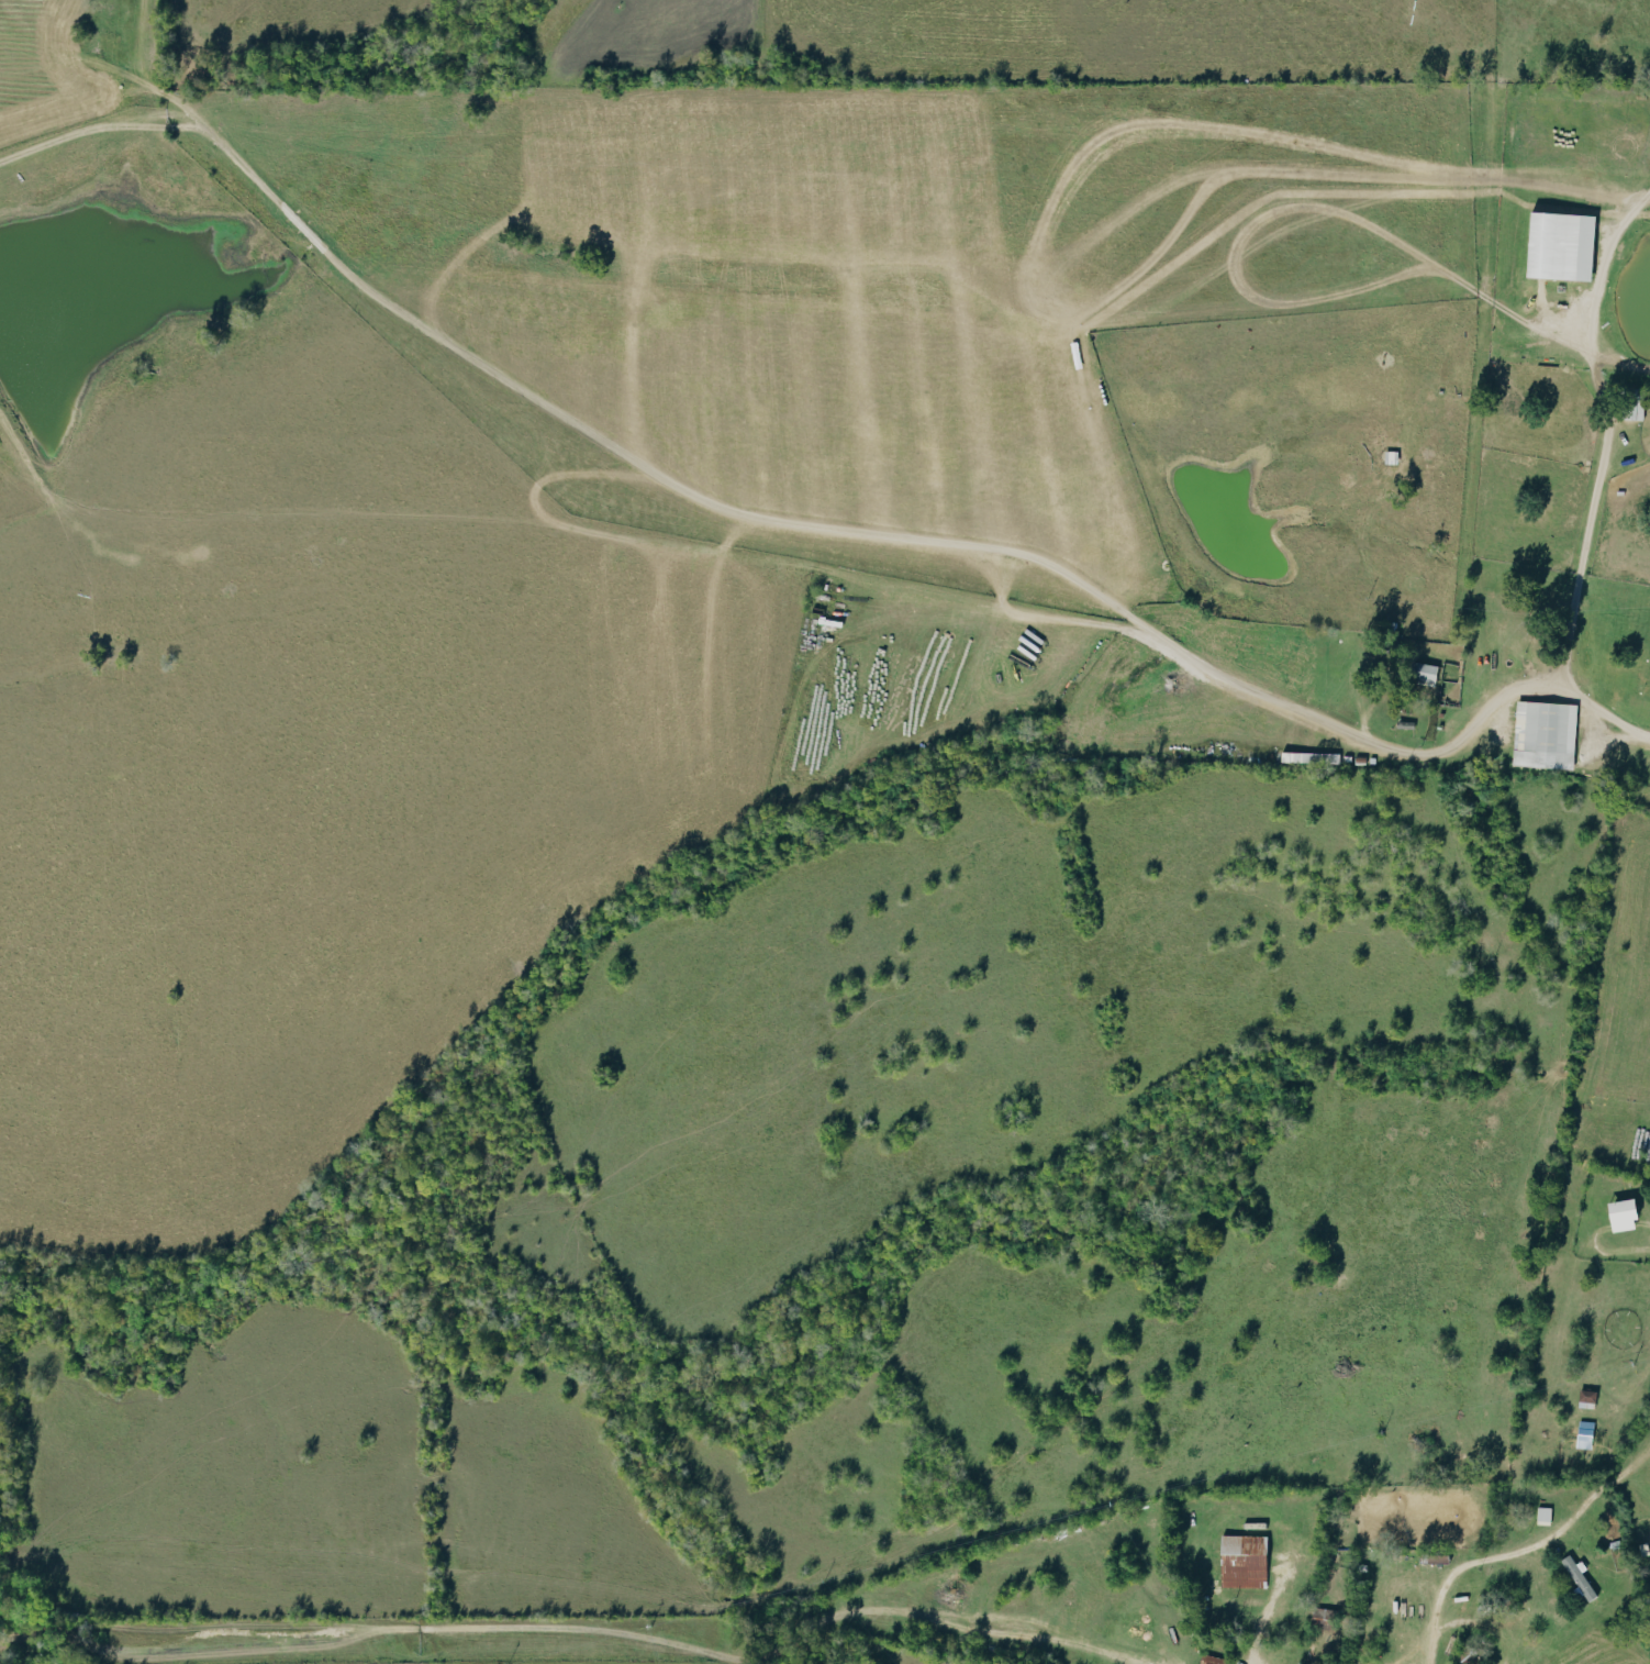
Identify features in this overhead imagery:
building: (1562, 244)
road: (1602, 466)
road: (802, 530)
building: (1427, 672)
building: (1546, 733)
building: (1625, 1214)
building: (1588, 1398)
building: (1586, 1433)
building: (1546, 1513)
road: (1520, 1552)
building: (1246, 1560)
building: (1581, 1575)
road: (873, 1615)
building: (1215, 1660)

